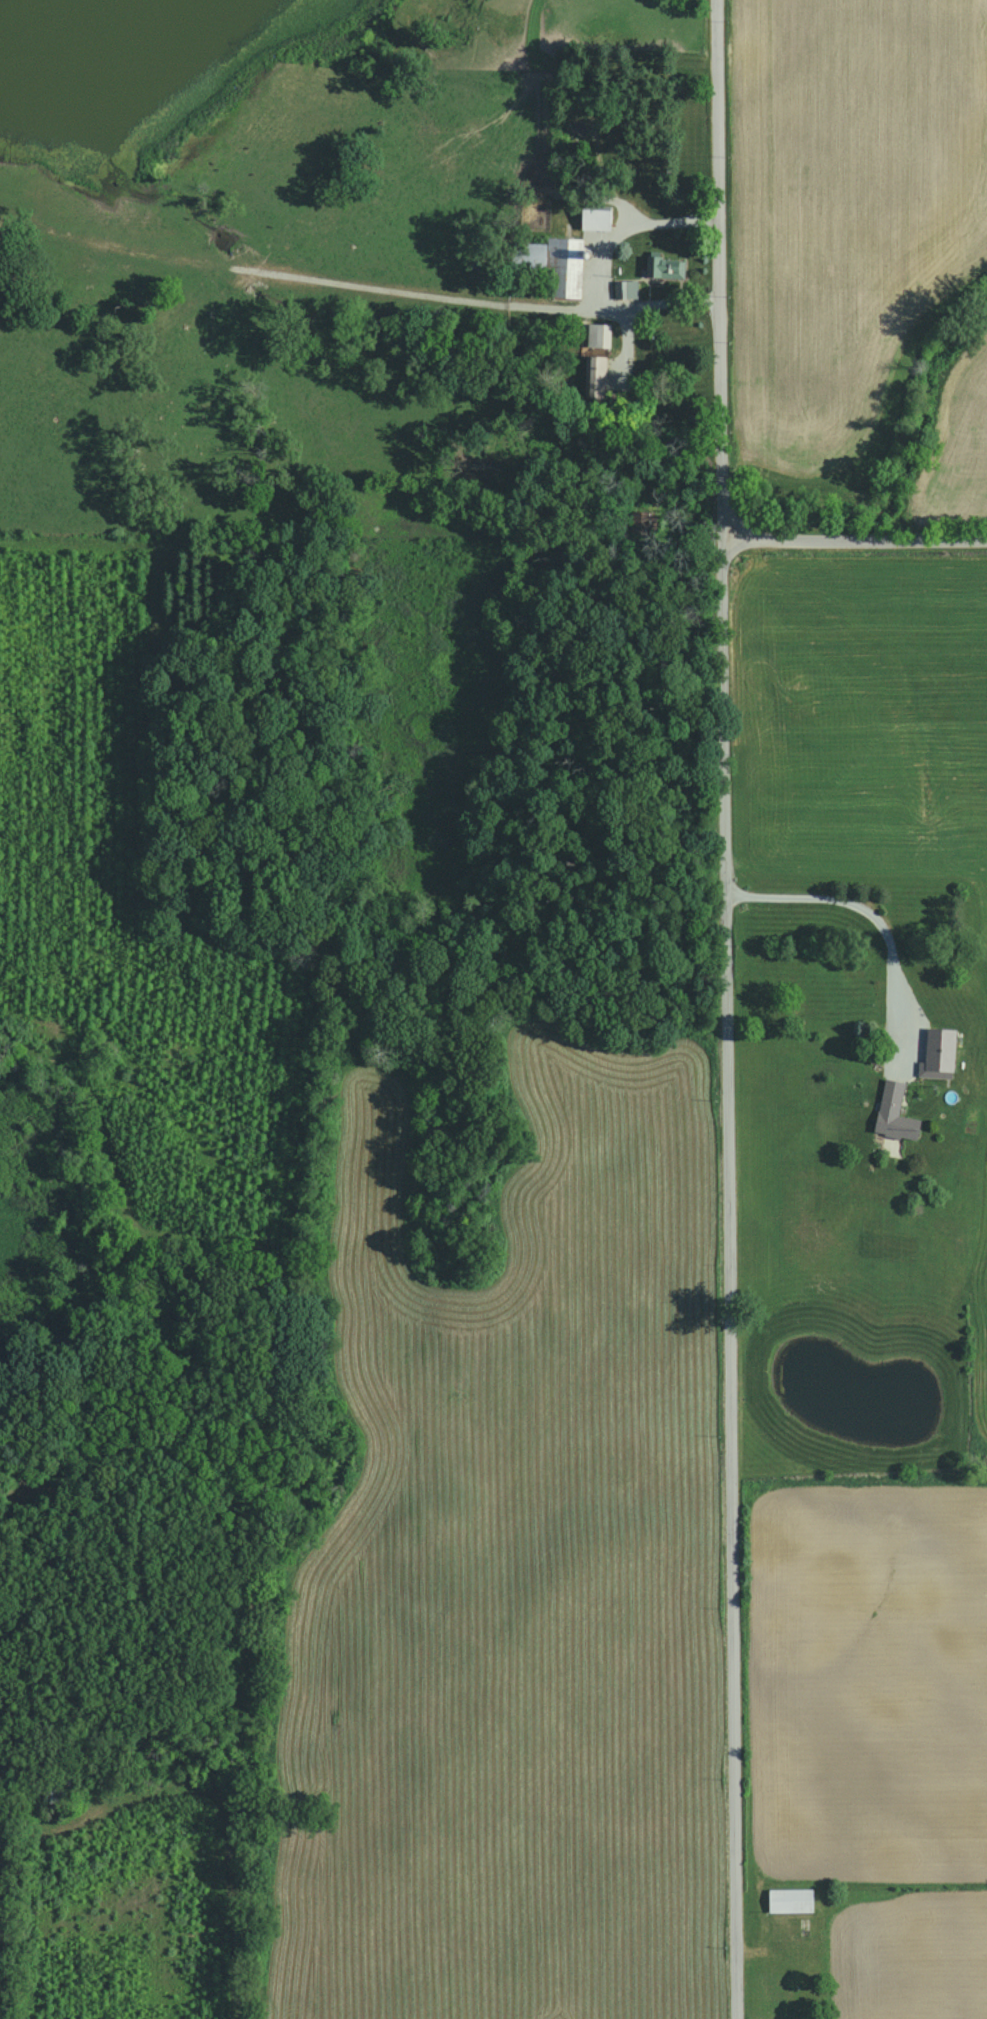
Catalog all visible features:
building: (594, 218)
building: (557, 266)
building: (666, 268)
road: (602, 277)
building: (627, 290)
building: (598, 336)
road: (854, 533)
road: (880, 923)
road: (728, 1009)
building: (892, 1113)
building: (788, 1901)
building: (777, 1990)

